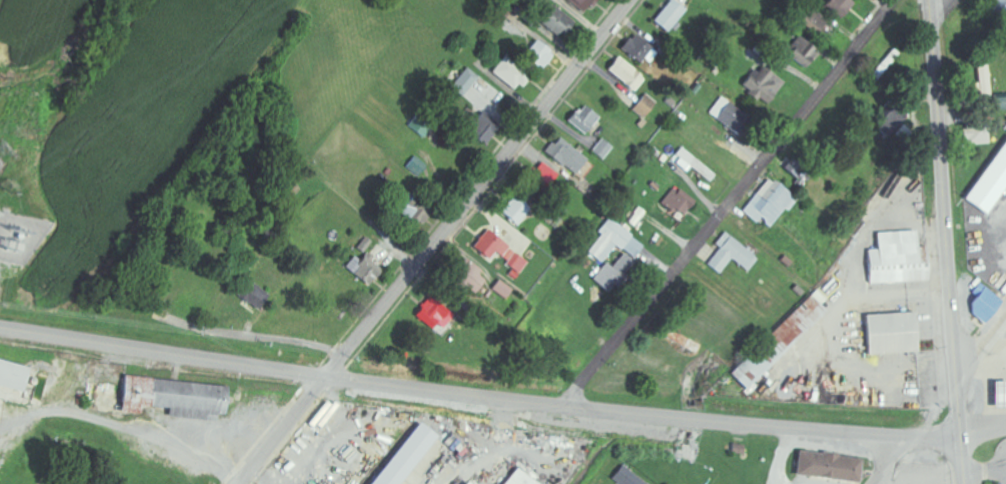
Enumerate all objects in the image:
building: (581, 4)
building: (838, 6)
road: (944, 6)
building: (998, 9)
building: (668, 15)
building: (816, 18)
building: (554, 21)
building: (800, 52)
building: (536, 54)
building: (981, 67)
building: (508, 74)
building: (624, 74)
building: (462, 81)
building: (759, 85)
building: (999, 102)
building: (642, 106)
building: (724, 114)
building: (897, 117)
building: (581, 119)
building: (476, 130)
building: (978, 134)
building: (600, 149)
building: (563, 155)
power substation: (1, 163)
building: (691, 165)
building: (416, 166)
road: (750, 177)
building: (542, 178)
building: (989, 183)
building: (675, 202)
building: (767, 203)
building: (406, 210)
building: (512, 211)
power substation: (18, 240)
road: (430, 241)
building: (614, 241)
road: (947, 242)
building: (364, 245)
building: (498, 252)
building: (731, 255)
building: (896, 259)
building: (363, 269)
building: (613, 273)
building: (466, 277)
building: (499, 289)
building: (251, 294)
building: (983, 303)
building: (432, 316)
building: (890, 334)
road: (249, 336)
building: (778, 343)
road: (982, 355)
building: (13, 375)
road: (585, 381)
building: (999, 396)
road: (502, 399)
road: (900, 450)
building: (405, 455)
road: (874, 458)
building: (827, 465)
building: (626, 476)
building: (519, 477)

